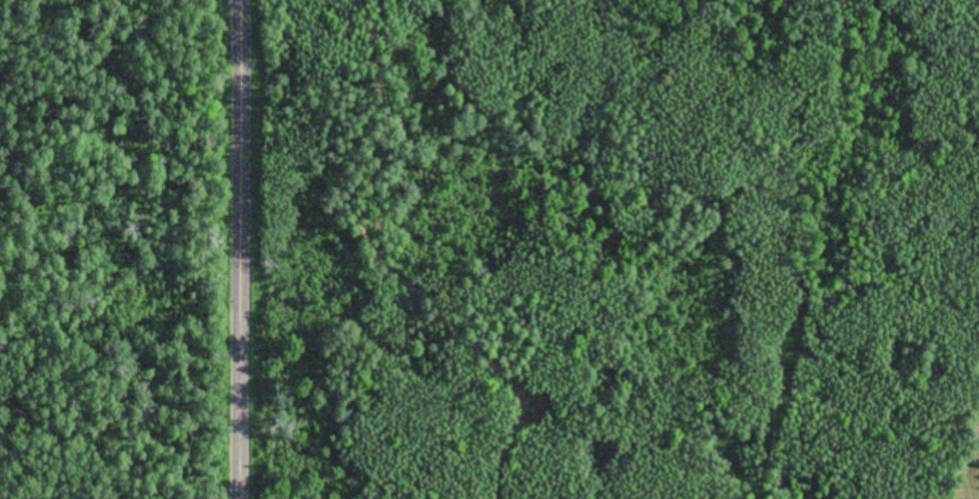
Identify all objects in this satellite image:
road: (243, 249)

